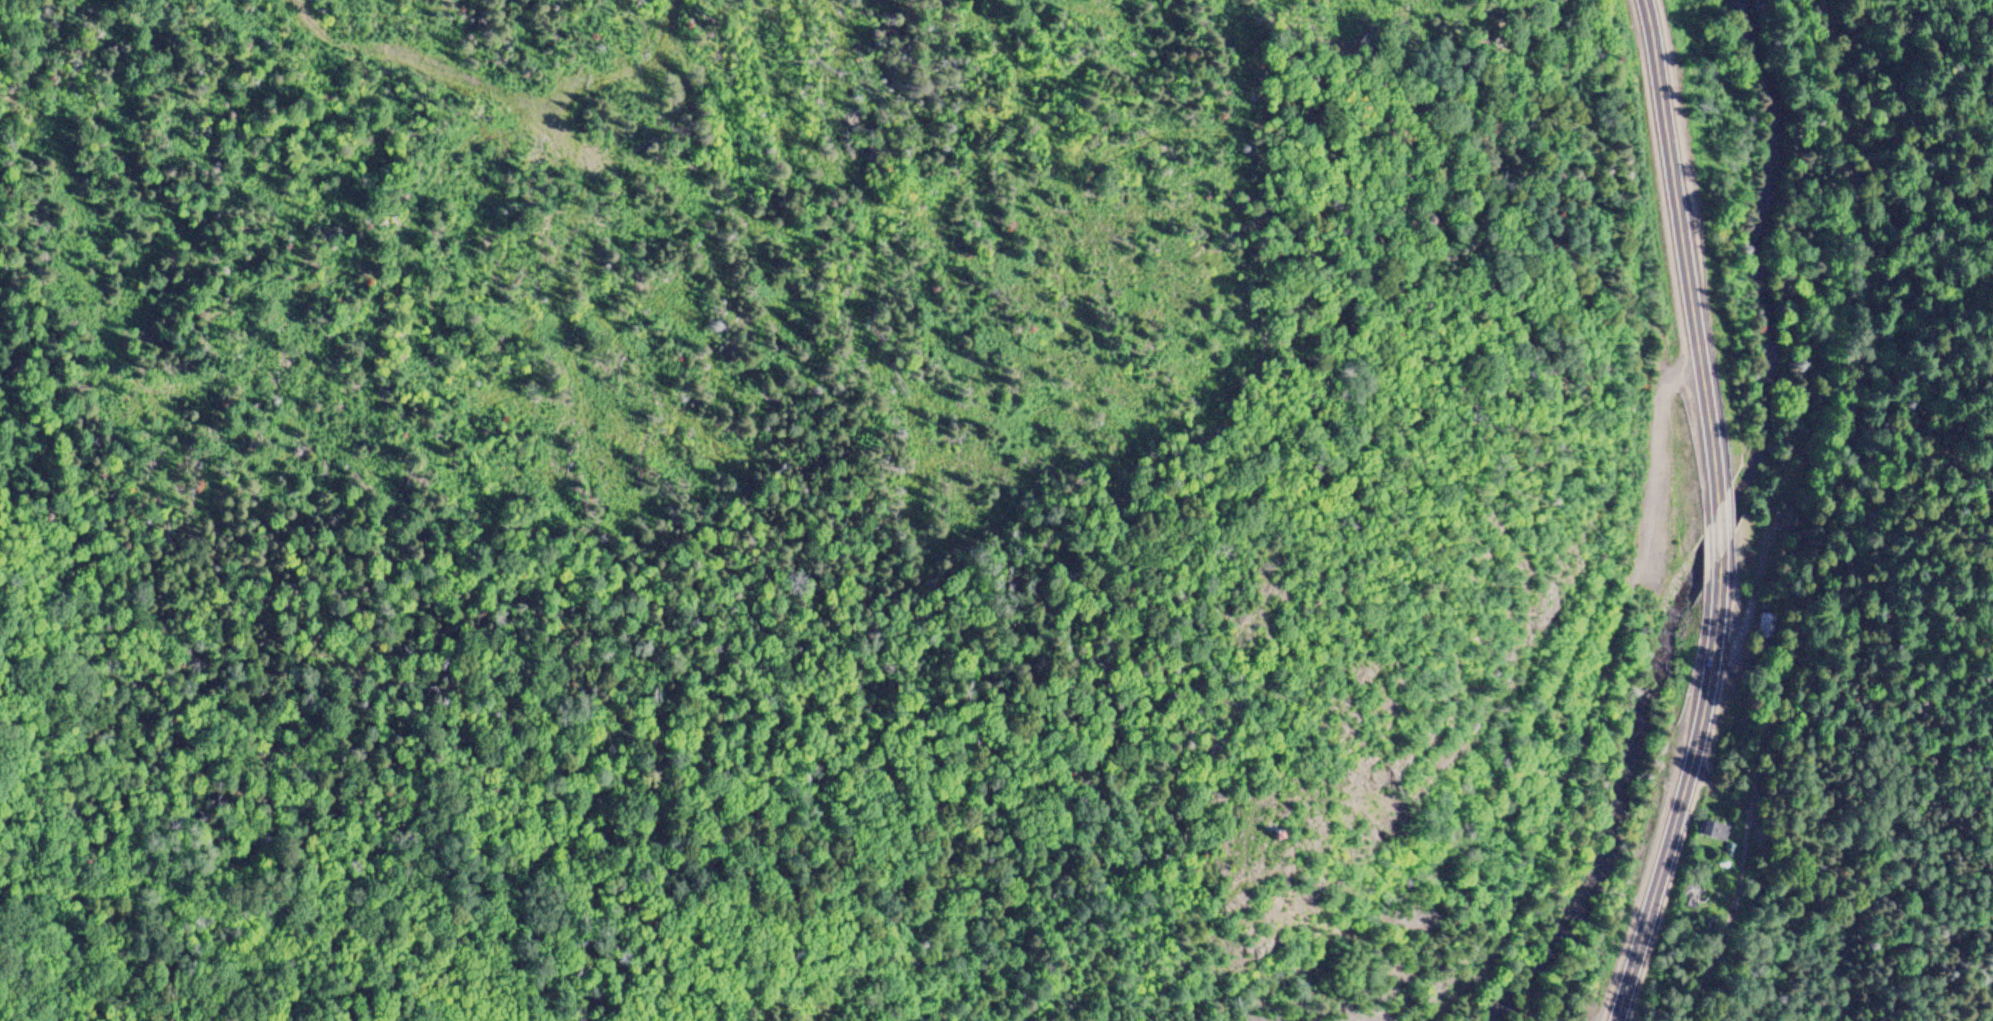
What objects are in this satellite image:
road: (1683, 251)
river: (1720, 531)
road: (1716, 532)
building: (1774, 594)
road: (1680, 793)
building: (1717, 832)

